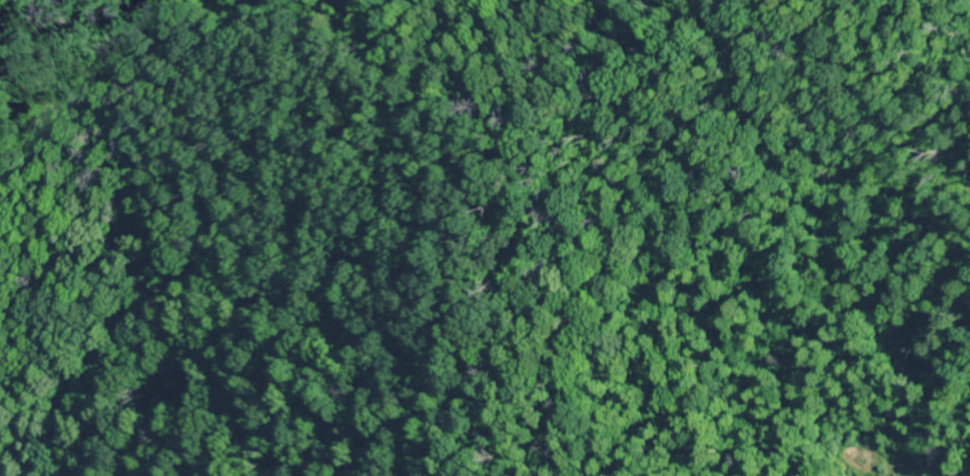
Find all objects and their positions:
park: (210, 228)

